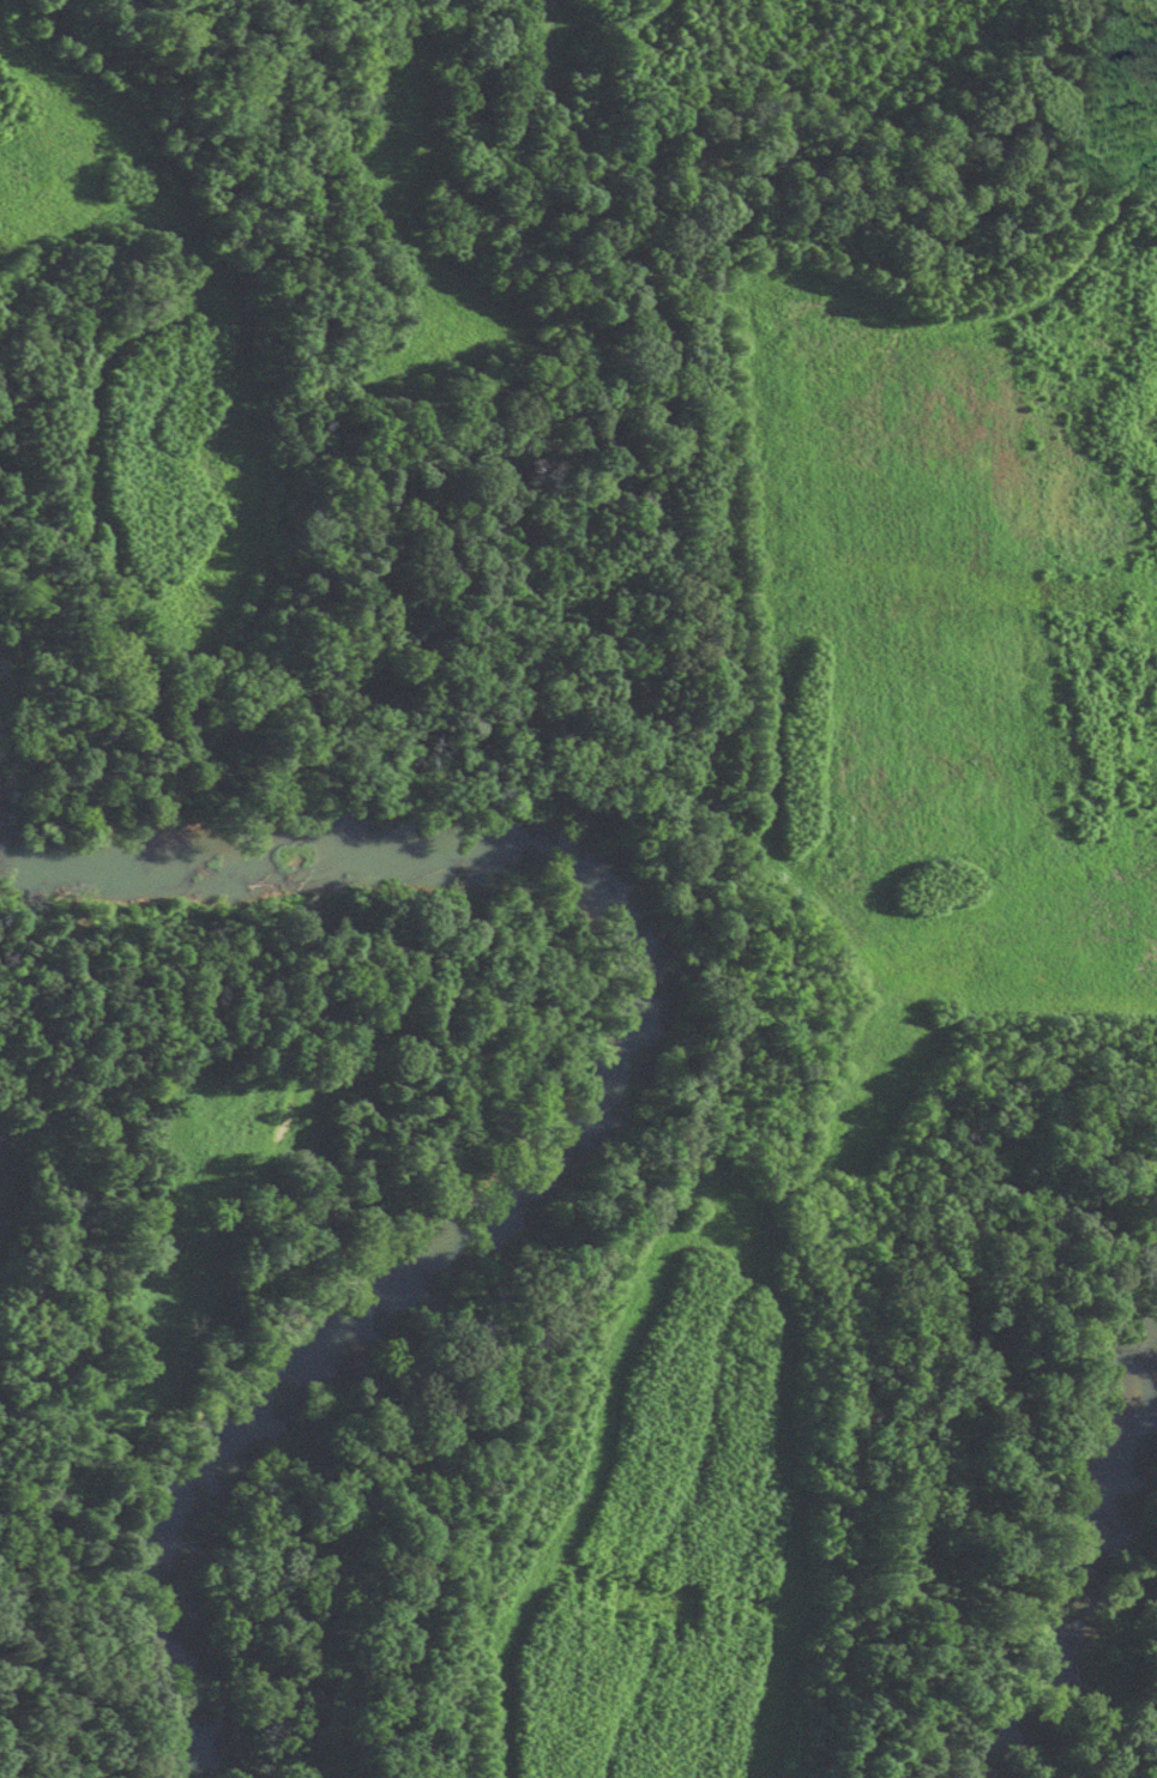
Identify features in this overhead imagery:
river: (601, 1115)
river: (1078, 1544)

